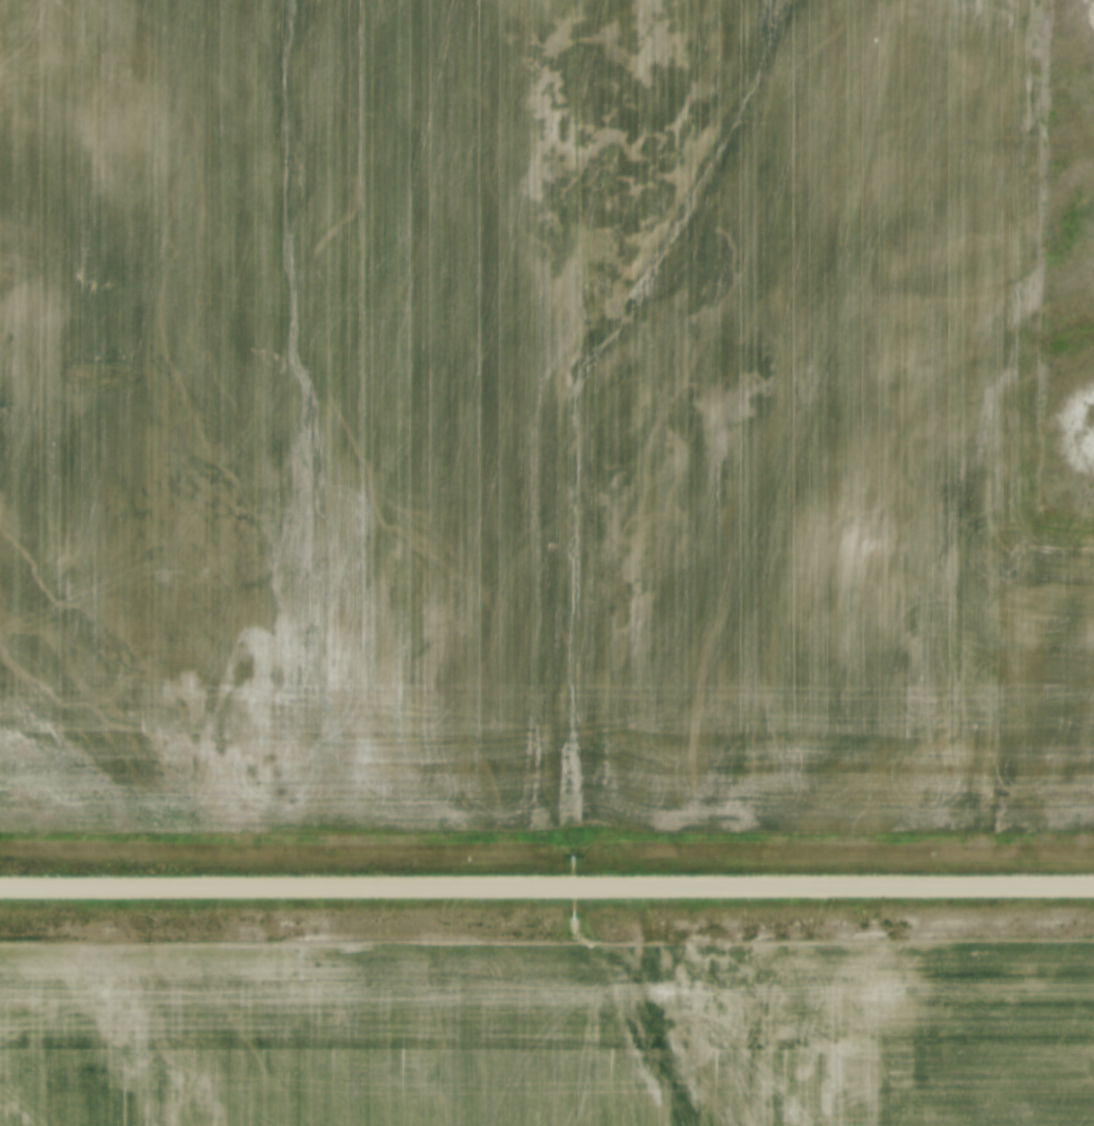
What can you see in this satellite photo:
road: (546, 889)

